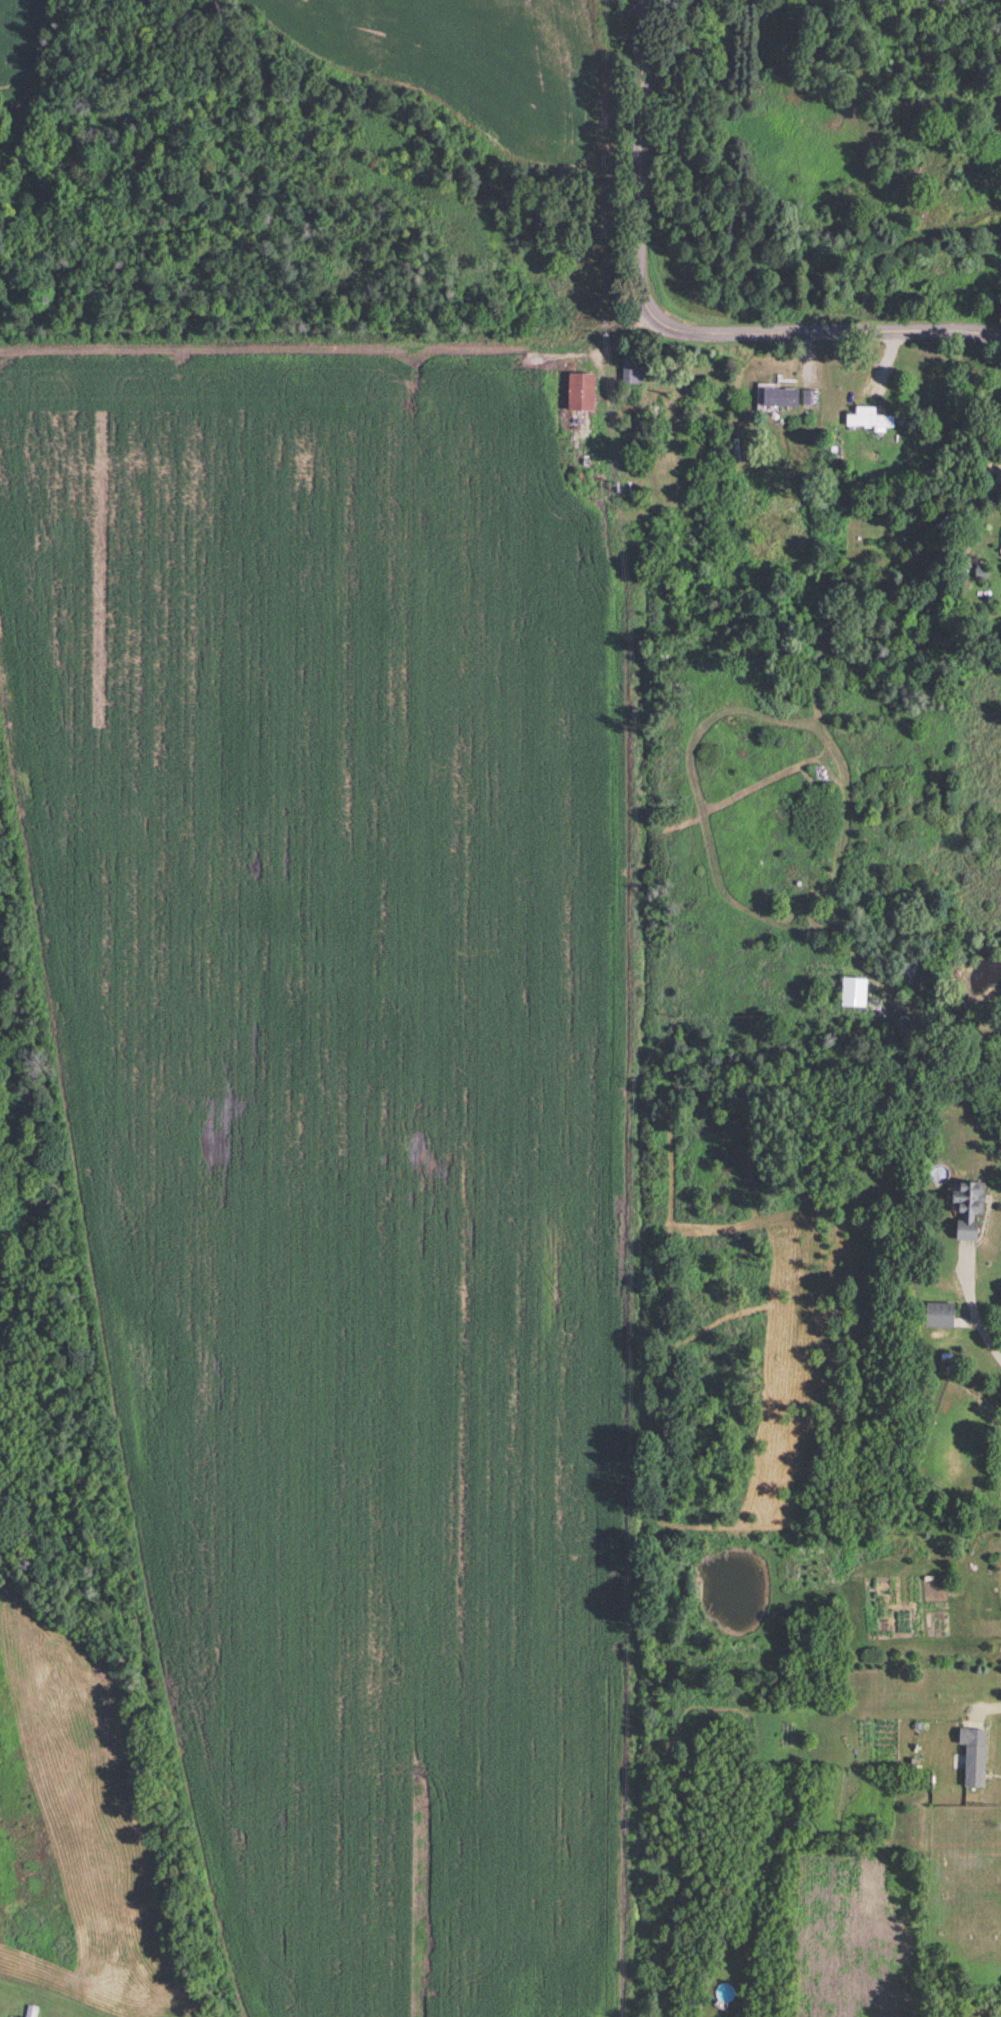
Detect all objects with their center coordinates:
road: (663, 329)
road: (600, 335)
road: (601, 365)
building: (633, 372)
building: (582, 393)
building: (781, 399)
building: (809, 399)
building: (657, 417)
building: (870, 421)
building: (681, 444)
building: (920, 975)
building: (854, 993)
building: (970, 1209)
road: (974, 1314)
building: (940, 1316)
road: (992, 1692)
building: (974, 1757)
building: (30, 2012)

